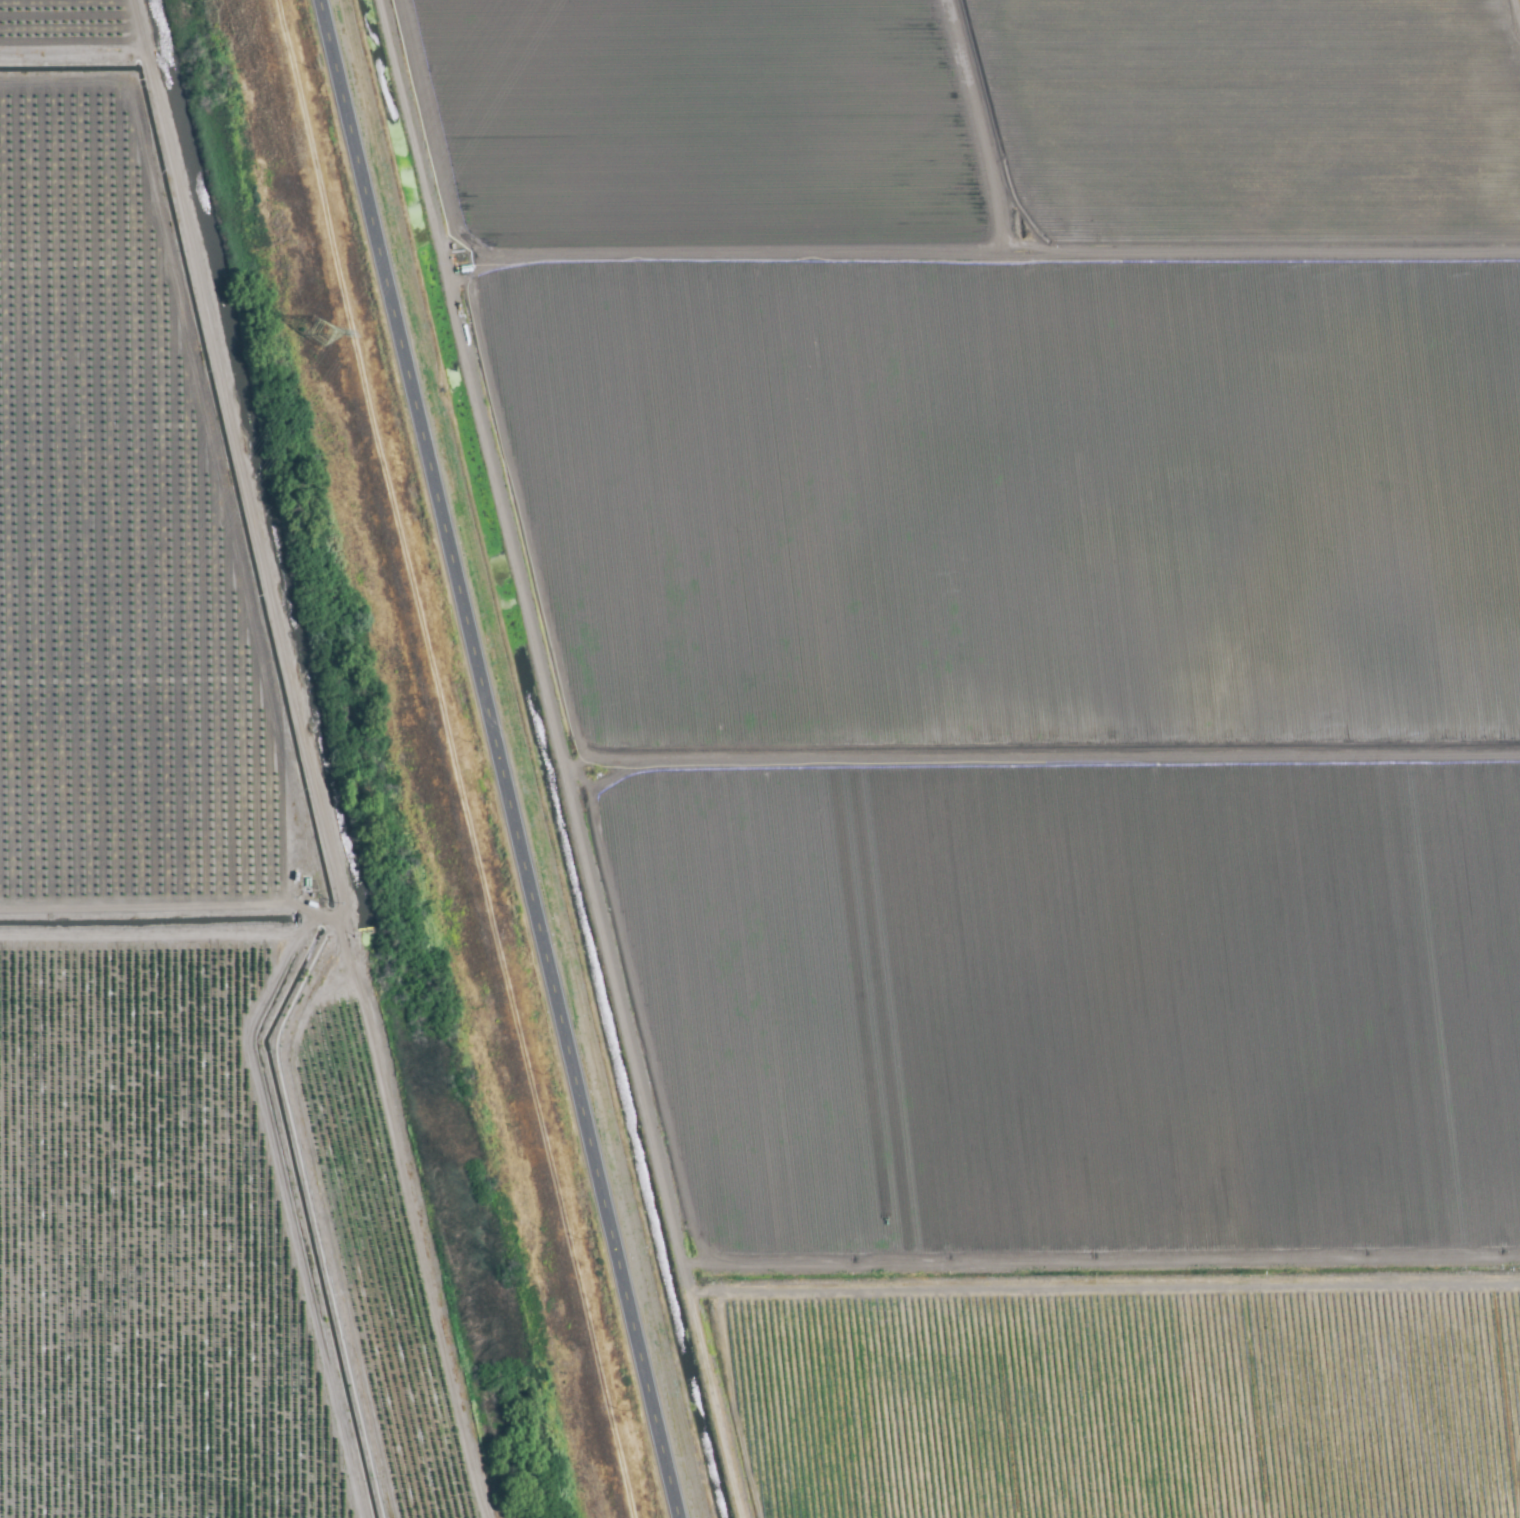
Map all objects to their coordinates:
power tower: (318, 322)
road: (513, 758)

